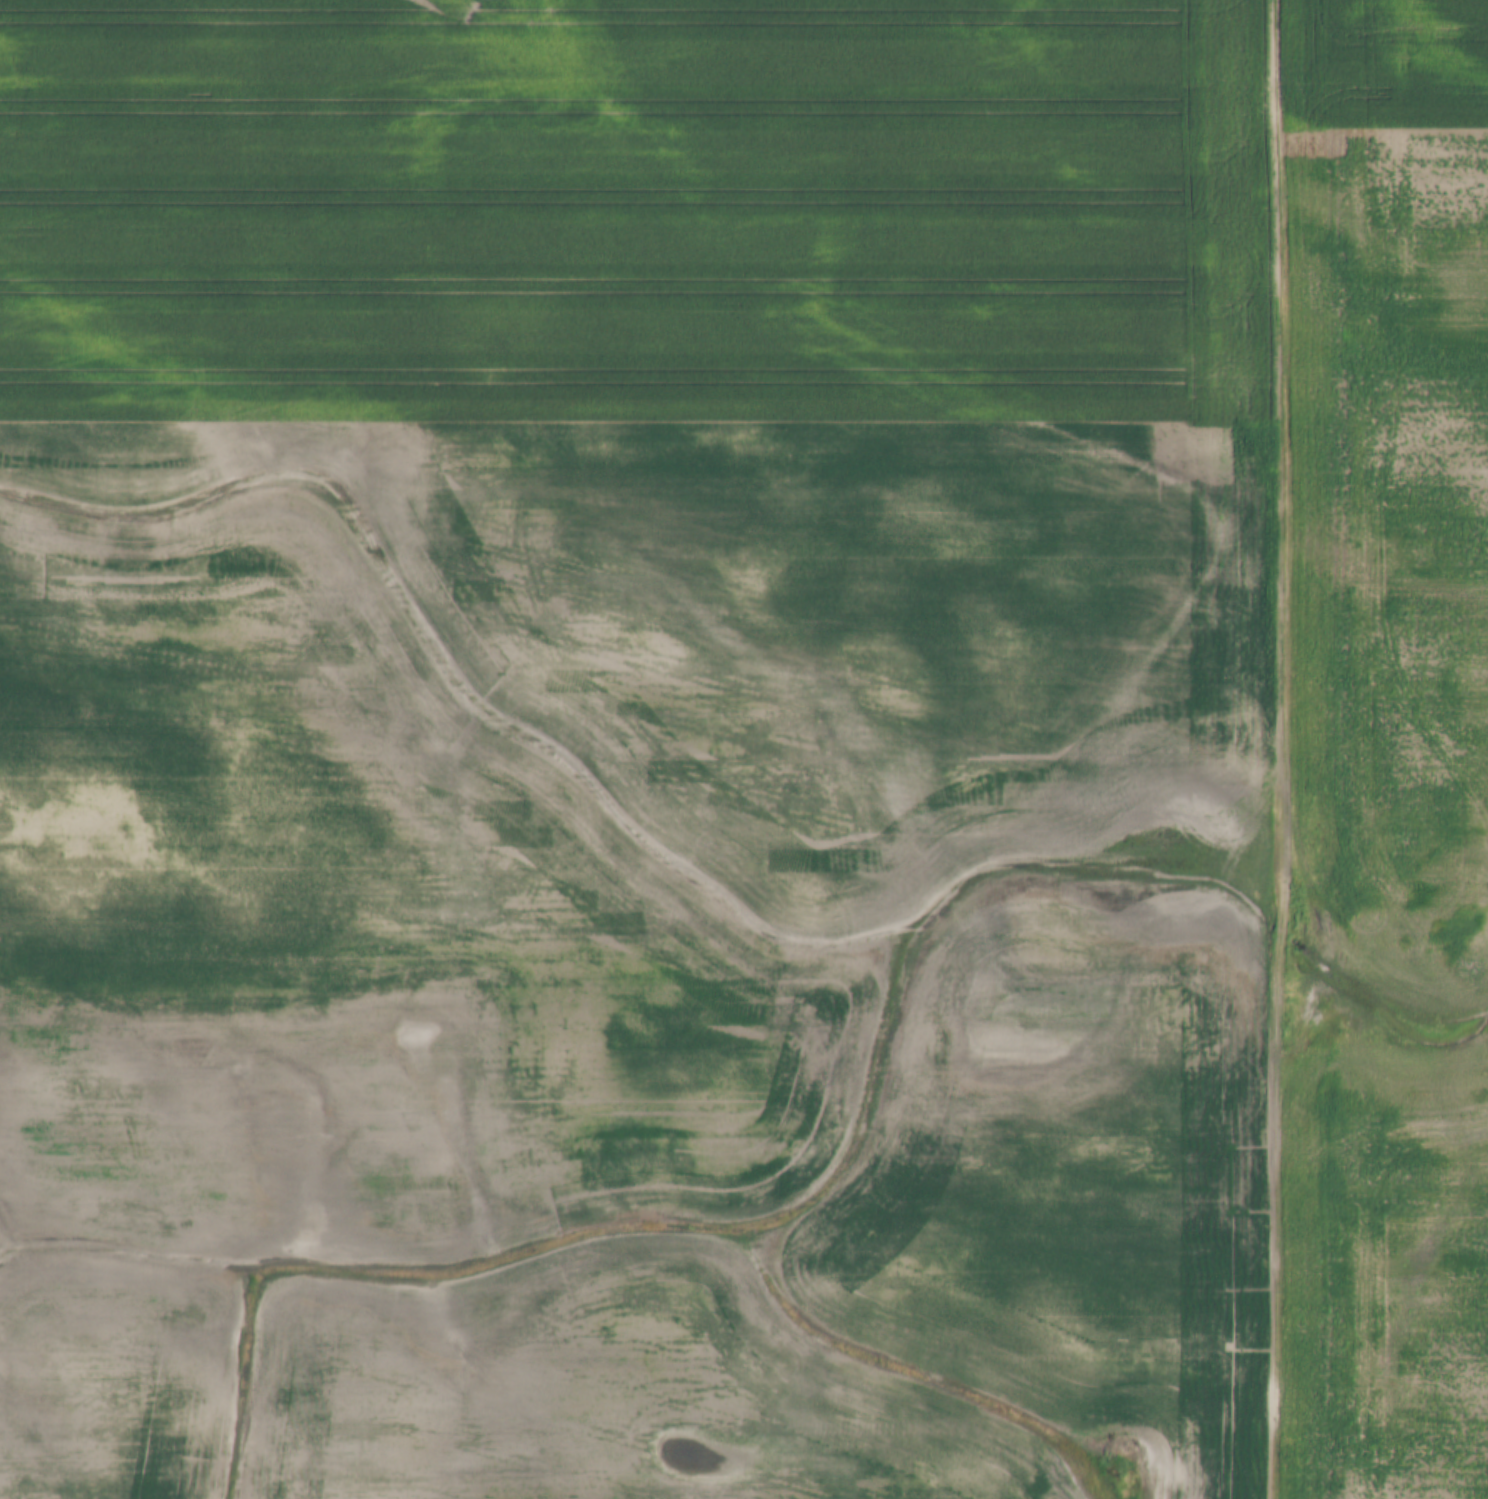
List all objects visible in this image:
road: (1287, 749)

